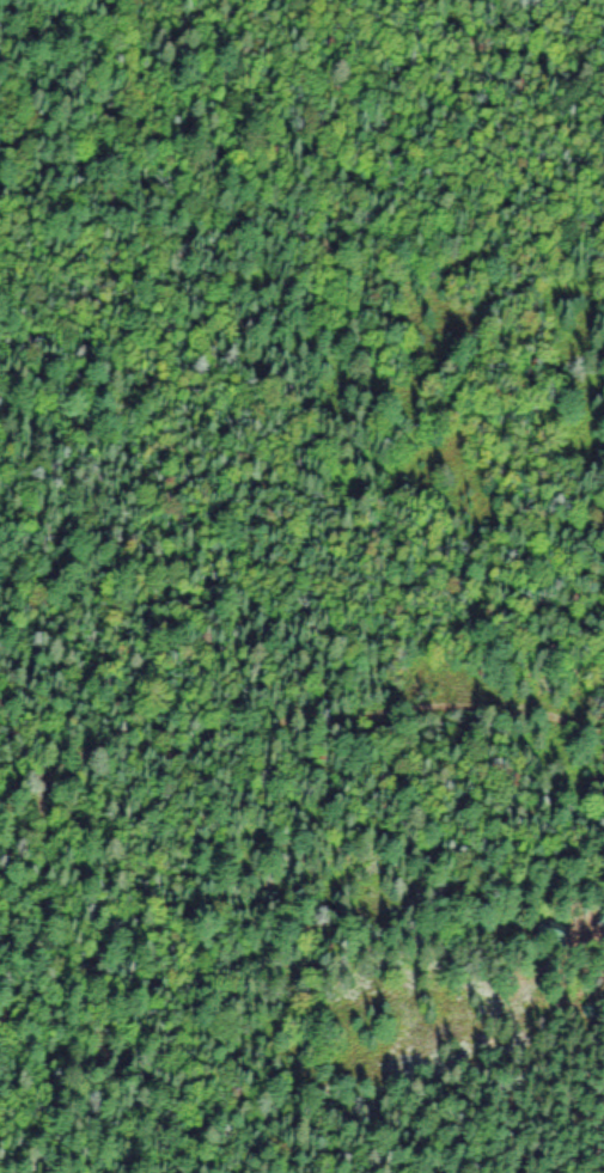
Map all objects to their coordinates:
building: (551, 931)

